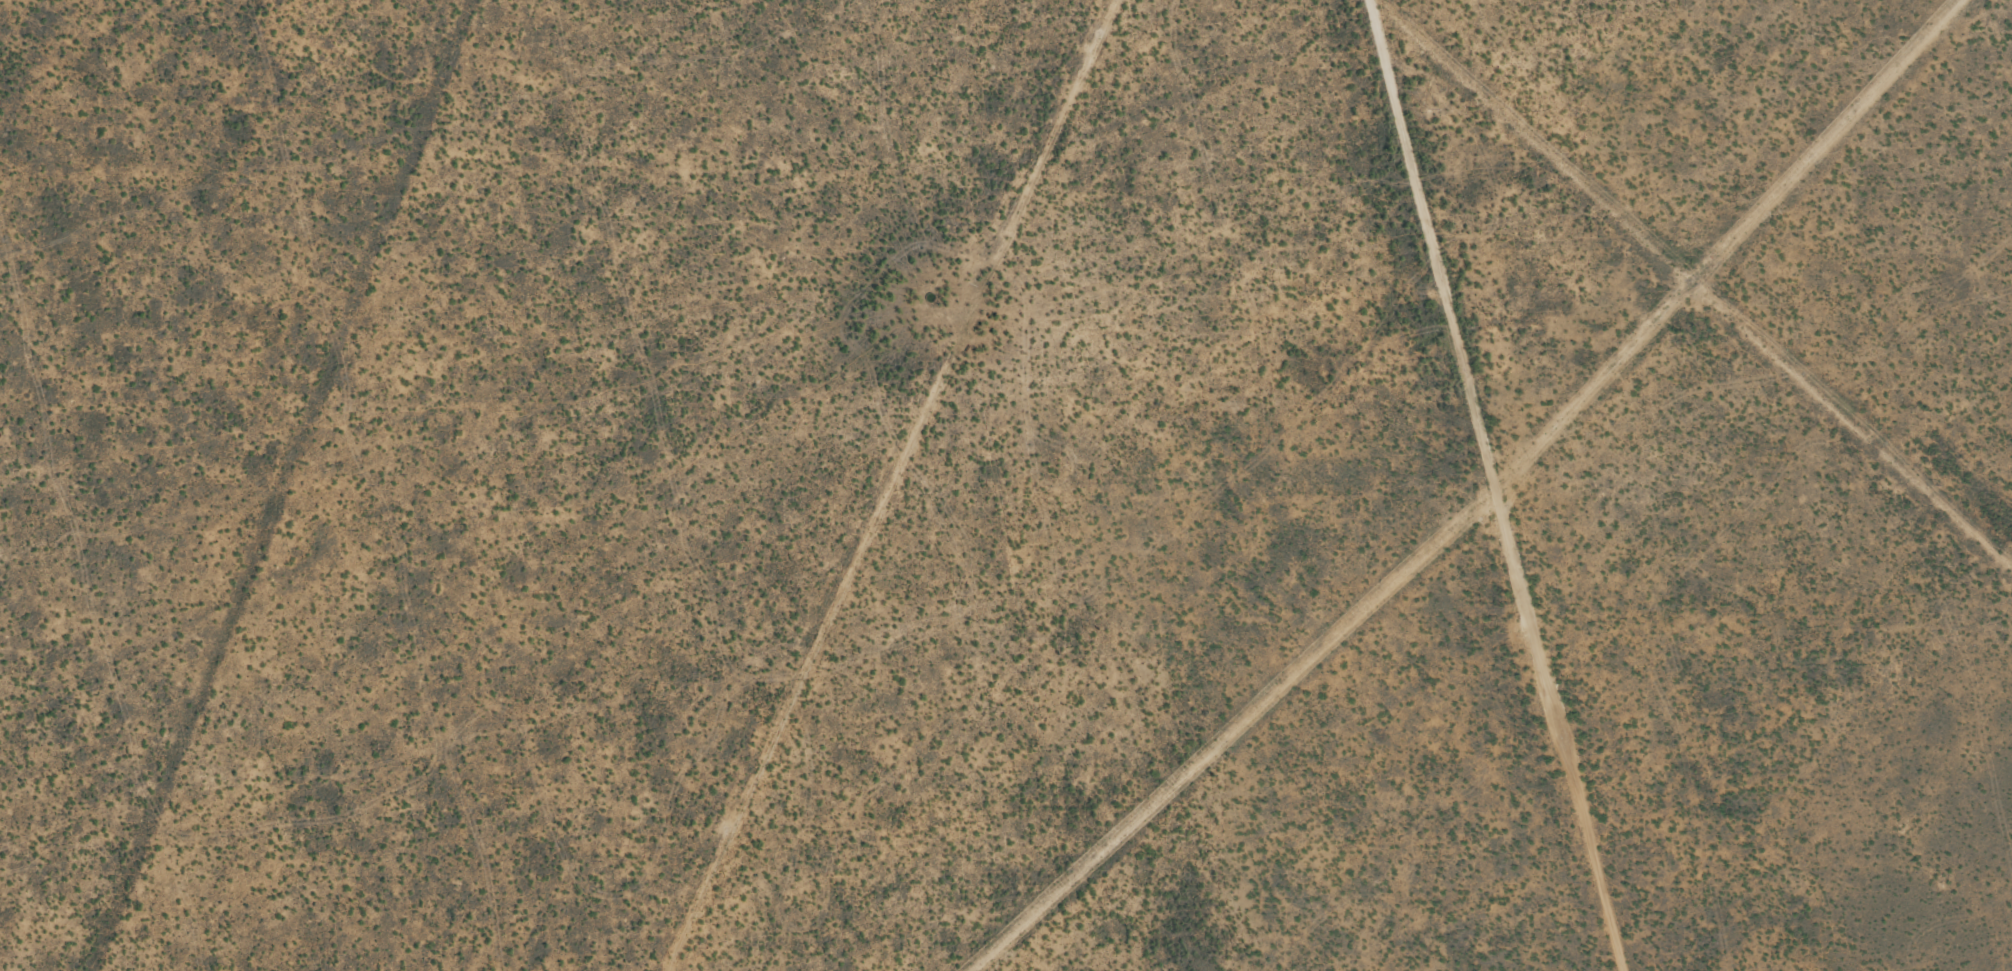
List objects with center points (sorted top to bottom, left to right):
road: (1497, 486)

